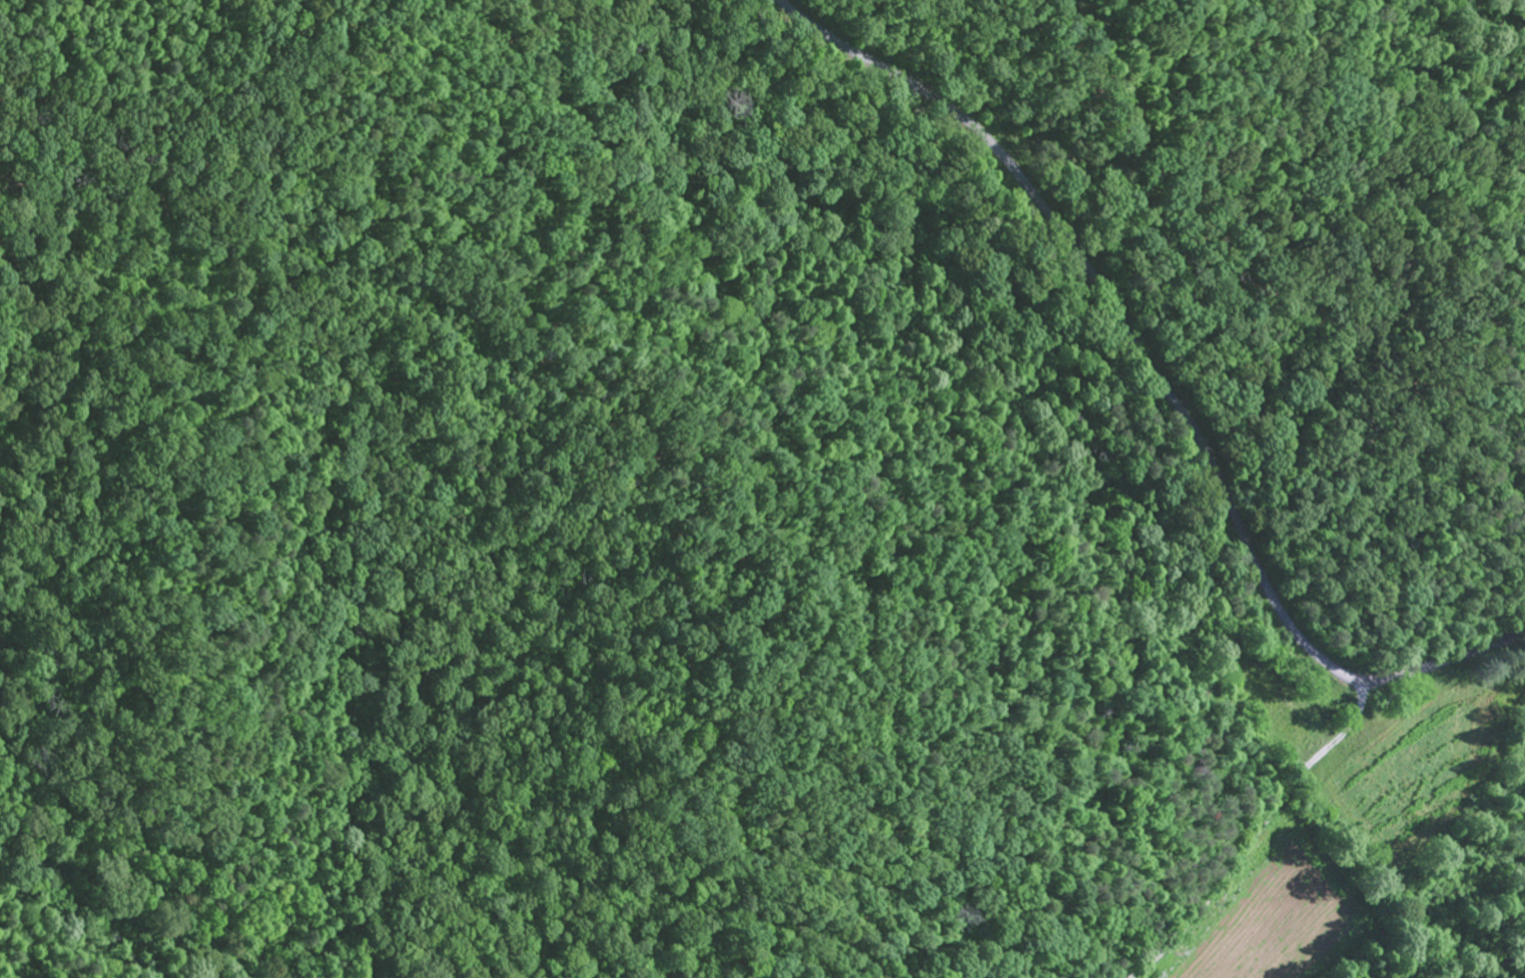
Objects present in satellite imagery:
road: (1158, 379)
park: (723, 460)

